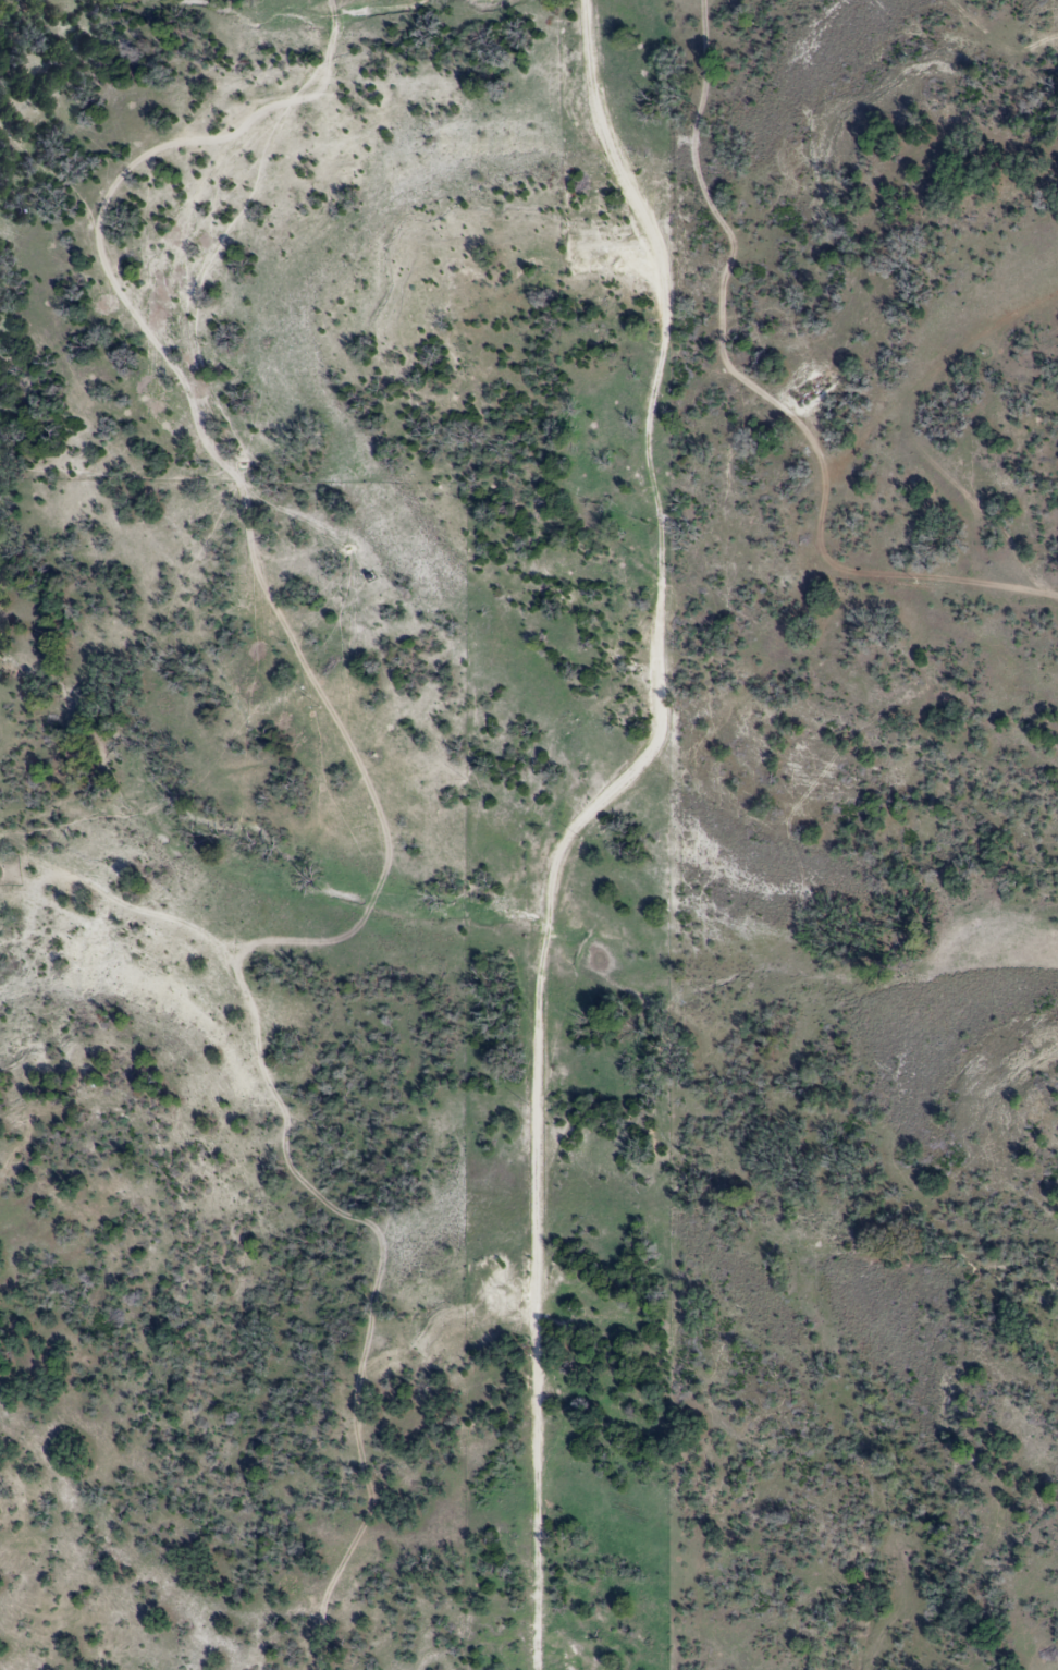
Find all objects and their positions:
road: (593, 816)

